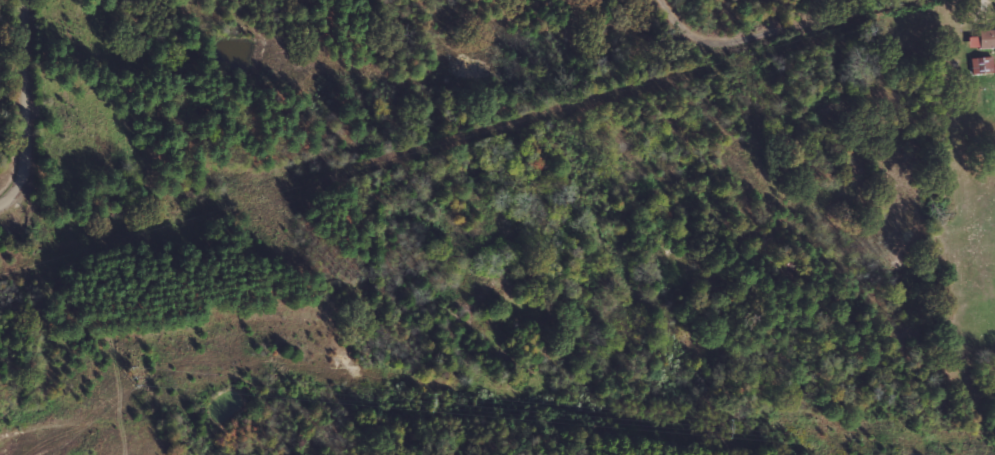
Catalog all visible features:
road: (768, 36)
building: (987, 39)
building: (983, 65)
road: (33, 111)

